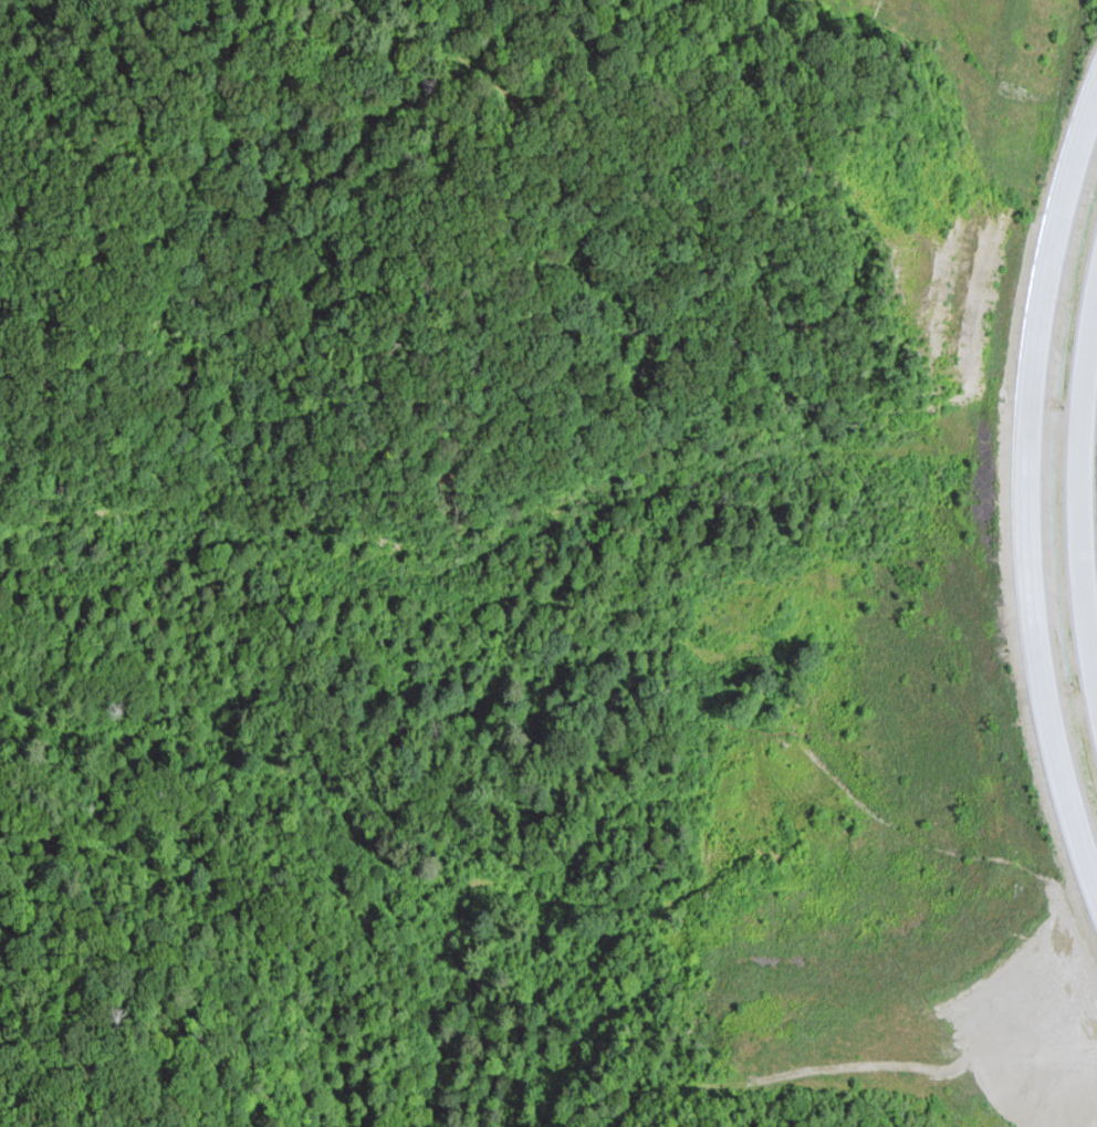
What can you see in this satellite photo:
quarry: (952, 289)
road: (1025, 492)
road: (1087, 500)
building: (1021, 671)

